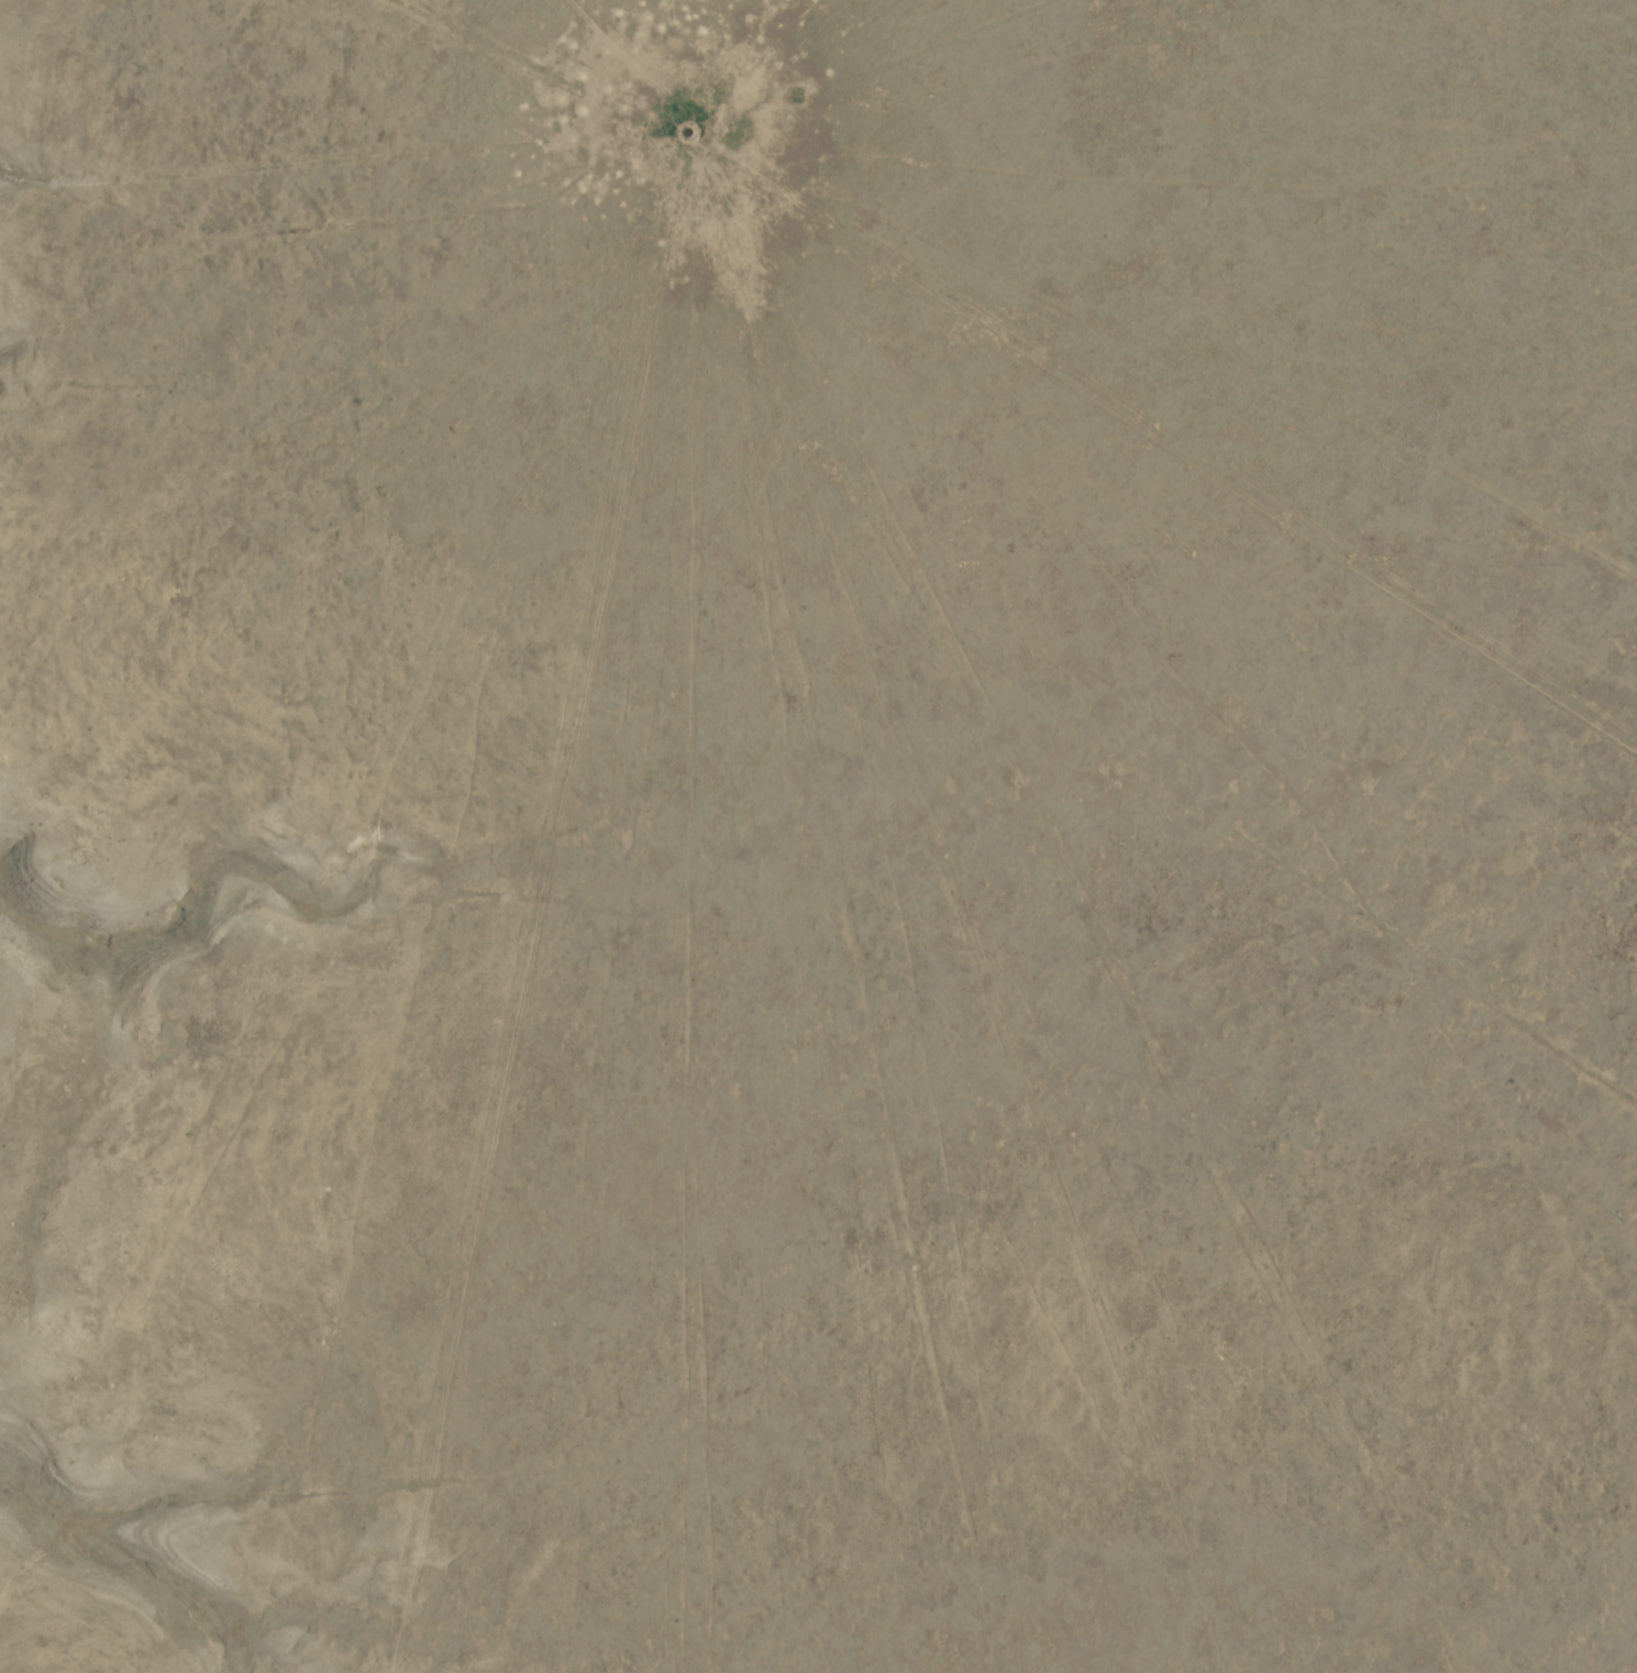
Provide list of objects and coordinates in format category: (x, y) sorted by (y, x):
road: (951, 639)

